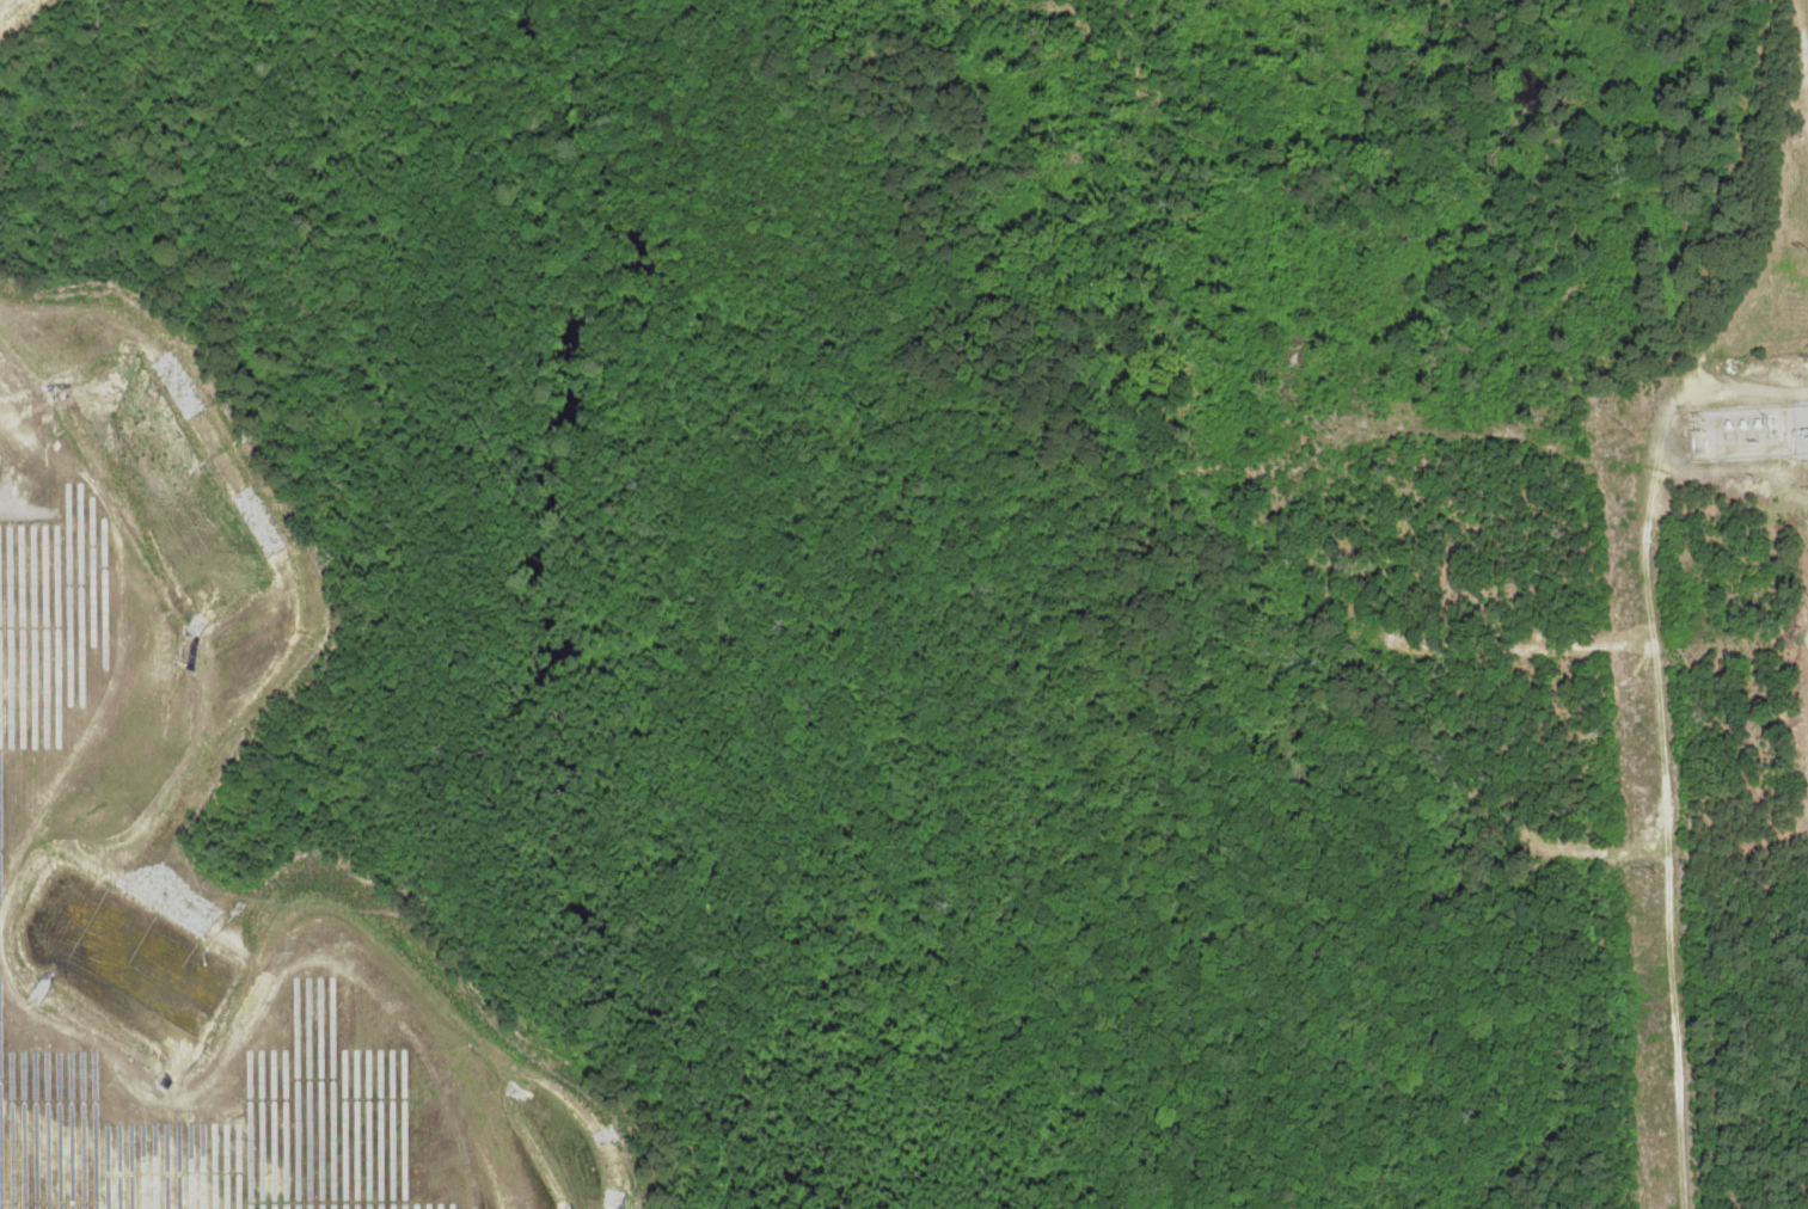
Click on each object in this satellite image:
power tower: (1698, 426)
power tower: (1626, 429)
power substation: (1749, 434)
power tower: (1653, 871)

